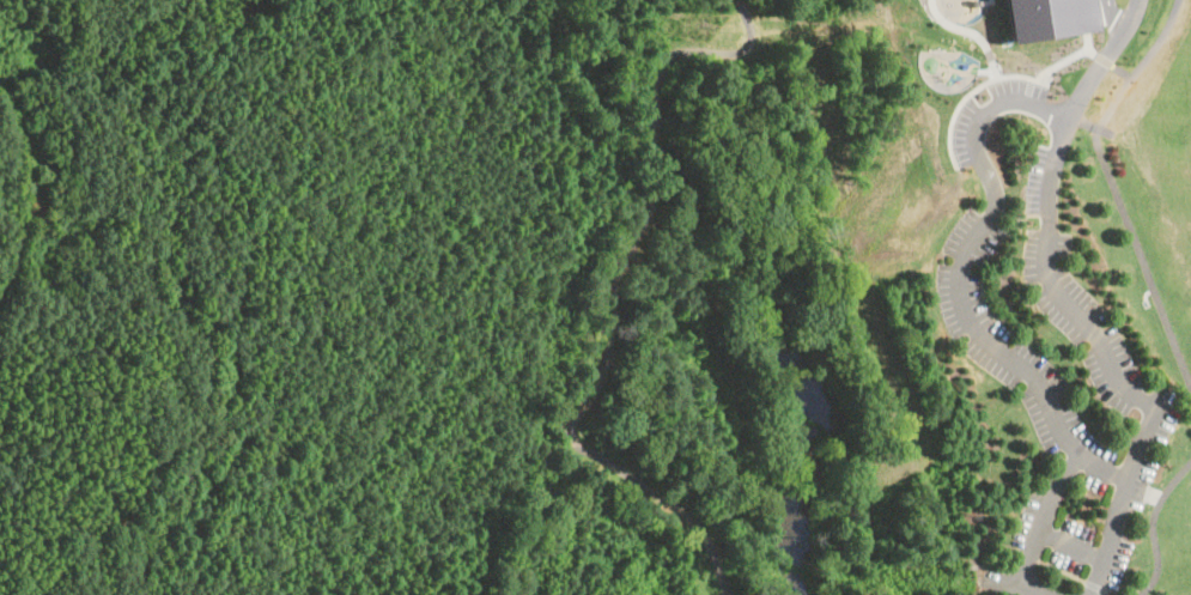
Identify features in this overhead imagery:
building: (1049, 18)
road: (724, 51)
road: (1076, 59)
road: (1100, 66)
road: (651, 97)
road: (991, 109)
road: (1112, 190)
park: (863, 308)
parking lot: (1050, 352)
road: (589, 394)
road: (1150, 526)

